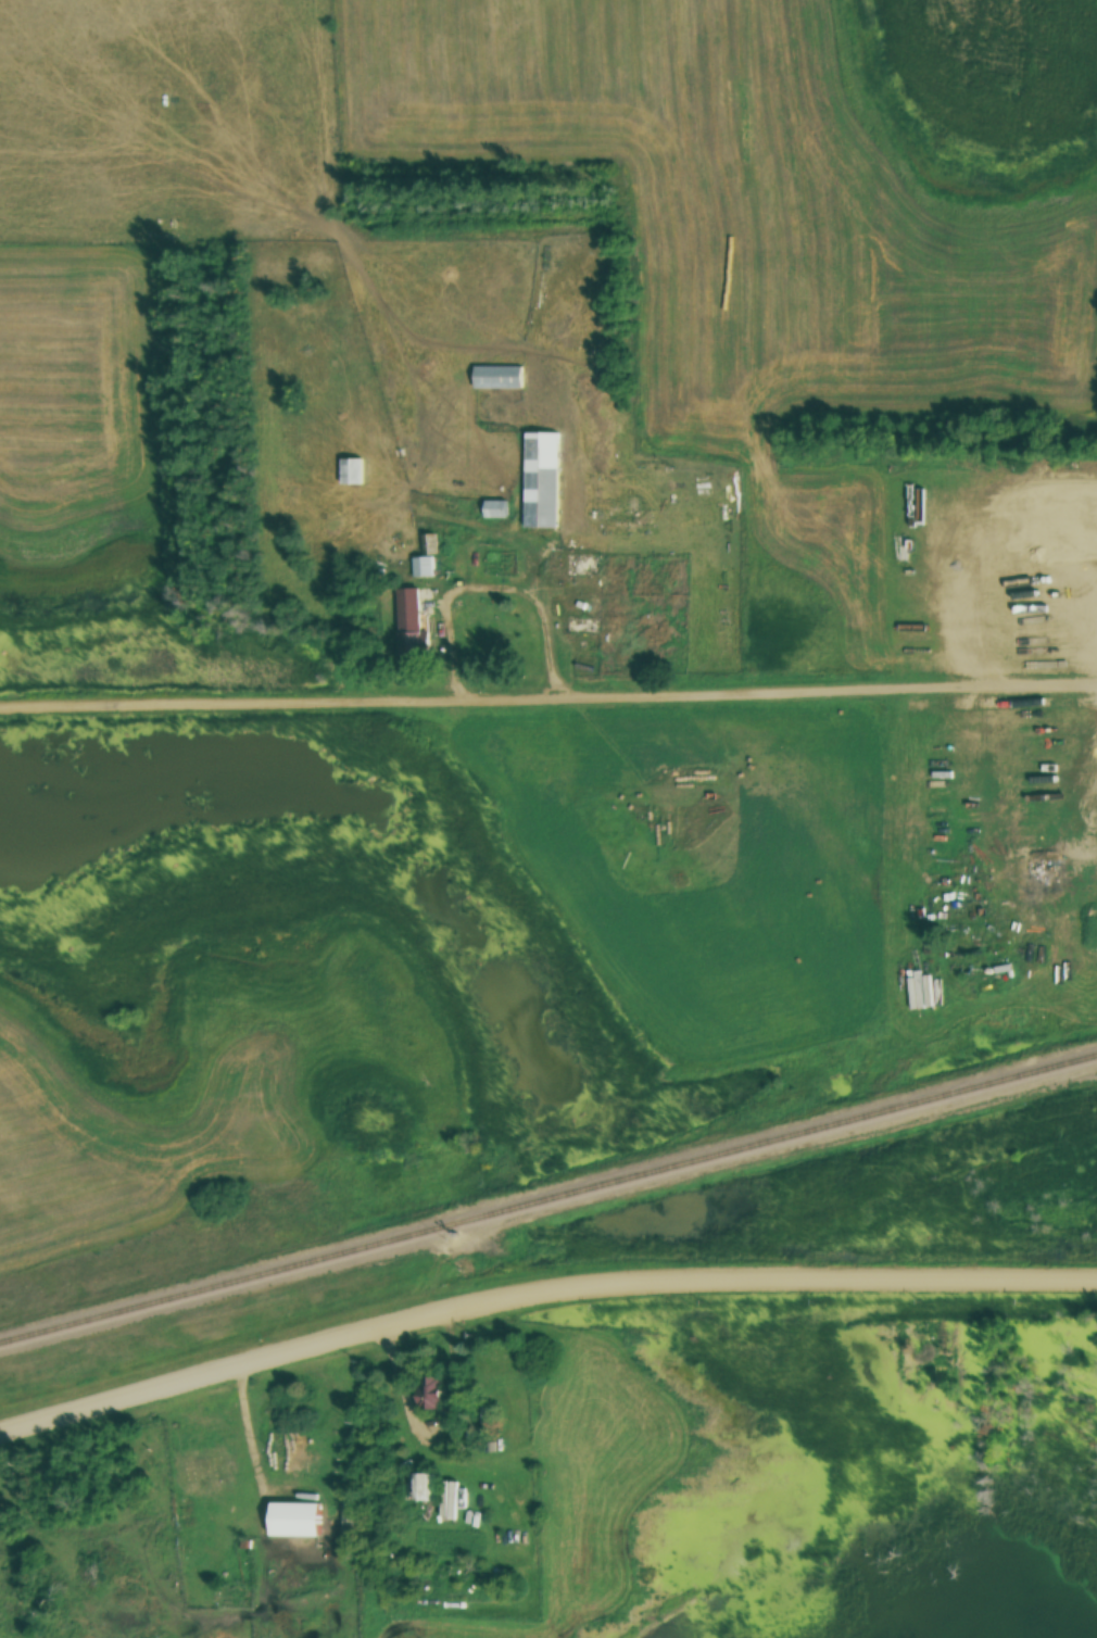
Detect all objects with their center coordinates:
building: (497, 376)
building: (353, 470)
building: (543, 479)
building: (495, 508)
building: (423, 566)
road: (497, 589)
building: (411, 621)
road: (739, 693)
road: (190, 702)
railway: (548, 1196)
road: (540, 1287)
building: (432, 1390)
road: (434, 1426)
road: (247, 1449)
building: (420, 1485)
building: (298, 1517)

